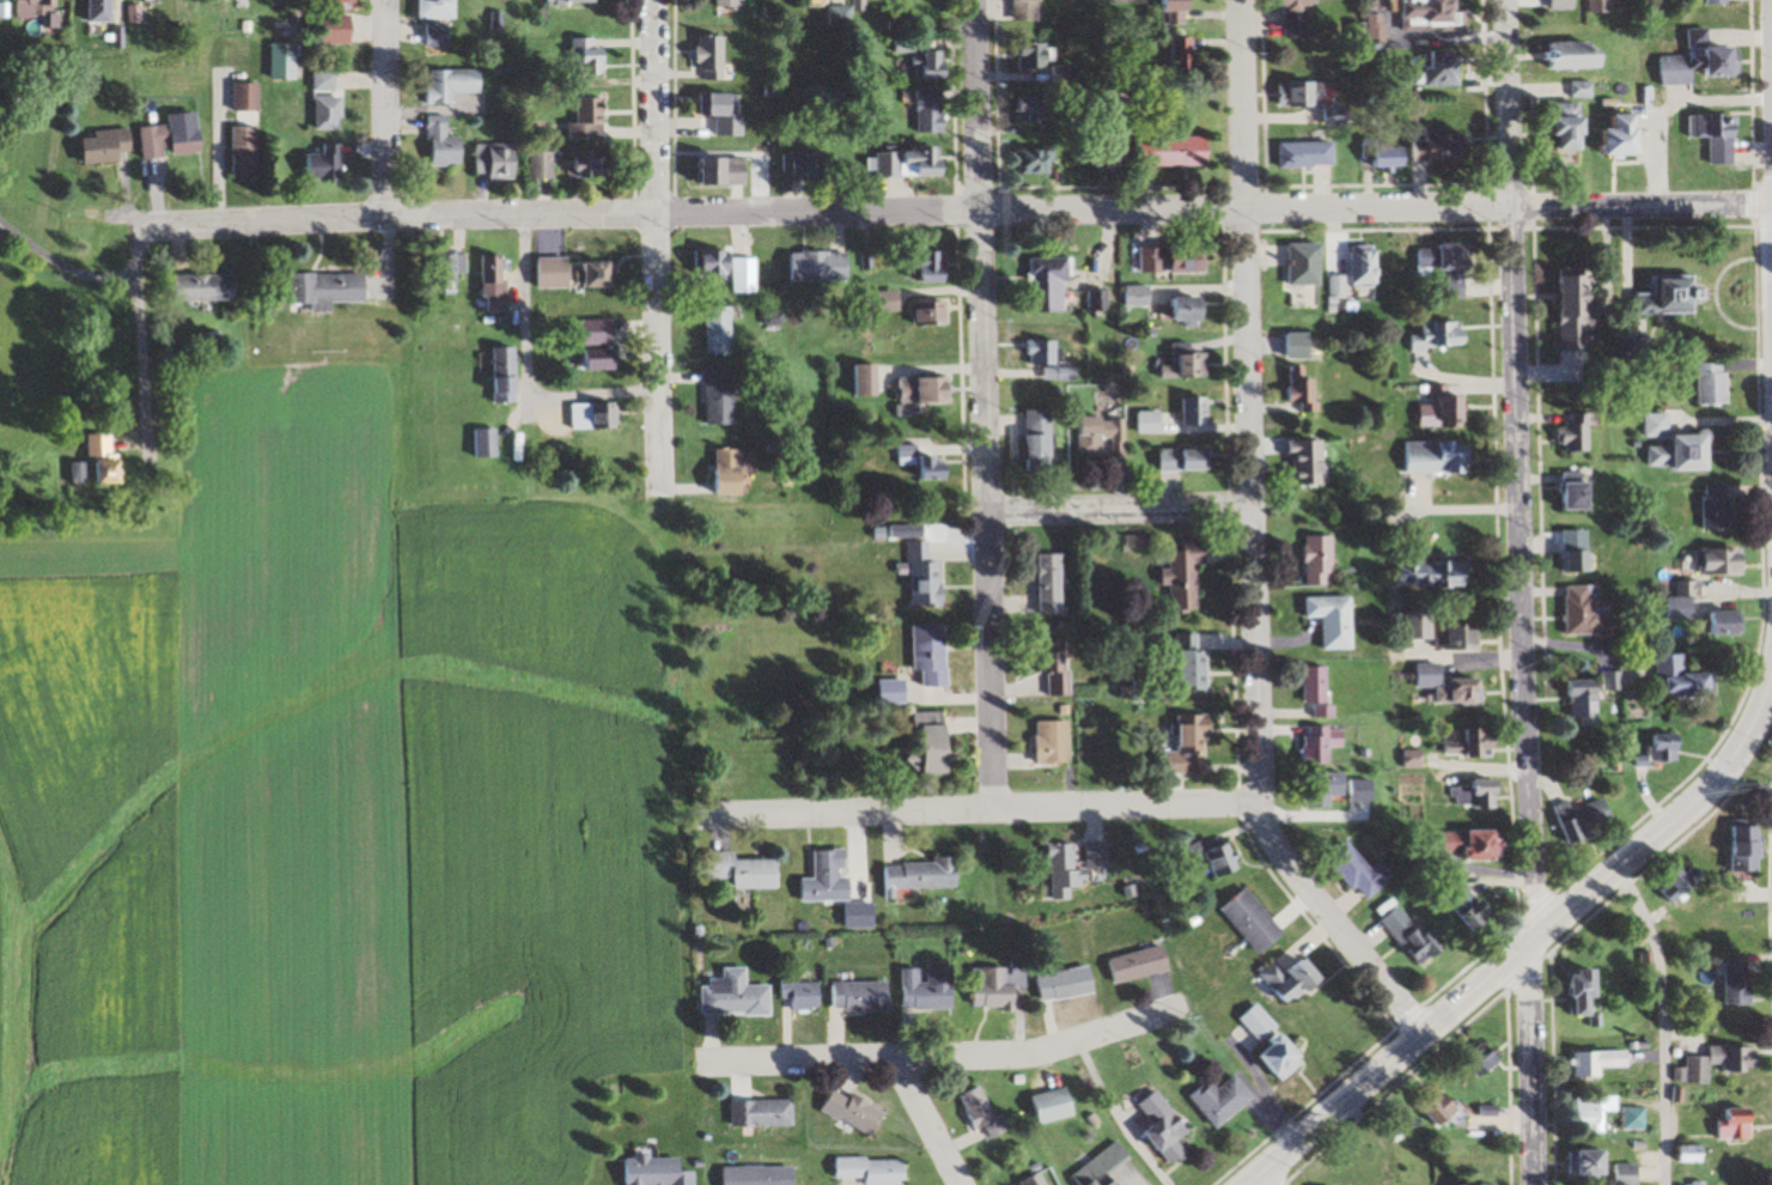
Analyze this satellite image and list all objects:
building: (1131, 1)
building: (573, 2)
building: (1718, 2)
building: (1565, 5)
building: (731, 6)
building: (1602, 6)
building: (37, 8)
building: (437, 8)
building: (102, 11)
building: (1031, 11)
building: (1179, 11)
building: (1433, 13)
building: (1298, 19)
building: (339, 29)
building: (438, 35)
building: (714, 56)
building: (1035, 56)
building: (1183, 56)
building: (1579, 56)
building: (587, 57)
building: (1701, 60)
building: (285, 61)
building: (933, 65)
building: (1448, 68)
building: (1067, 74)
building: (324, 81)
building: (451, 85)
building: (1585, 90)
building: (1302, 93)
building: (1114, 95)
building: (248, 97)
road: (1768, 103)
building: (717, 105)
road: (390, 109)
building: (1031, 110)
building: (933, 111)
building: (330, 114)
building: (590, 118)
building: (1573, 127)
building: (1632, 136)
building: (1717, 136)
building: (172, 141)
building: (445, 145)
building: (109, 147)
building: (1418, 150)
building: (249, 151)
building: (1176, 152)
building: (1308, 154)
road: (214, 158)
building: (1112, 159)
building: (499, 160)
building: (1033, 162)
building: (912, 163)
building: (327, 164)
building: (543, 164)
building: (803, 164)
building: (590, 166)
building: (726, 171)
road: (952, 211)
road: (652, 239)
building: (1175, 259)
building: (1308, 263)
building: (820, 266)
building: (1365, 266)
building: (1450, 266)
building: (452, 267)
building: (931, 267)
building: (726, 271)
building: (554, 273)
building: (601, 274)
building: (497, 282)
building: (1051, 285)
building: (207, 288)
building: (329, 290)
building: (1681, 291)
building: (1139, 297)
building: (931, 311)
building: (1192, 311)
building: (1575, 314)
building: (721, 329)
building: (598, 332)
building: (1445, 335)
building: (1301, 346)
building: (598, 359)
building: (1196, 366)
road: (522, 367)
building: (507, 373)
building: (866, 381)
building: (1716, 384)
building: (924, 390)
building: (1309, 396)
building: (720, 397)
road: (984, 402)
building: (1198, 412)
building: (597, 415)
building: (1152, 424)
building: (1658, 426)
building: (1101, 434)
building: (1578, 434)
building: (1041, 440)
building: (487, 443)
building: (1698, 454)
building: (1663, 457)
building: (1439, 458)
building: (108, 461)
building: (1170, 461)
building: (1199, 461)
building: (1311, 462)
building: (924, 463)
building: (731, 472)
building: (1579, 492)
building: (1718, 508)
road: (1120, 512)
road: (1253, 540)
building: (1579, 558)
building: (1323, 560)
building: (1728, 561)
building: (1438, 575)
building: (926, 577)
building: (1188, 577)
building: (1053, 584)
road: (1521, 591)
building: (1686, 603)
building: (1589, 614)
building: (1338, 620)
building: (1728, 624)
building: (1417, 626)
building: (1467, 638)
building: (933, 654)
building: (1193, 664)
building: (1059, 668)
building: (1431, 676)
building: (1683, 679)
building: (1321, 691)
building: (895, 692)
building: (1468, 692)
building: (1587, 701)
road: (1747, 734)
building: (936, 743)
building: (1055, 743)
building: (1472, 743)
building: (1195, 745)
building: (1321, 745)
building: (1664, 754)
building: (1328, 790)
building: (1476, 794)
road: (985, 804)
building: (1587, 820)
building: (1455, 843)
building: (1490, 846)
building: (1750, 850)
building: (1098, 855)
building: (1223, 862)
building: (1360, 870)
building: (743, 871)
building: (1066, 871)
building: (919, 876)
building: (832, 880)
building: (1472, 907)
building: (1254, 920)
building: (1415, 938)
building: (1139, 965)
building: (1293, 980)
building: (1728, 982)
building: (1066, 984)
road: (1478, 984)
building: (994, 987)
building: (927, 989)
building: (1585, 992)
building: (736, 995)
building: (802, 995)
building: (861, 996)
road: (1661, 1021)
building: (1274, 1043)
road: (945, 1058)
building: (1468, 1058)
building: (1589, 1061)
building: (1709, 1062)
building: (1223, 1100)
building: (1054, 1104)
building: (1427, 1108)
building: (981, 1110)
building: (852, 1111)
building: (1582, 1111)
building: (762, 1112)
building: (1625, 1117)
building: (1724, 1122)
road: (928, 1123)
building: (1164, 1126)
building: (1676, 1151)
building: (1577, 1161)
building: (873, 1169)
building: (658, 1171)
building: (1618, 1173)
building: (761, 1175)
building: (1036, 1179)
road: (1267, 1179)
building: (1457, 1184)

